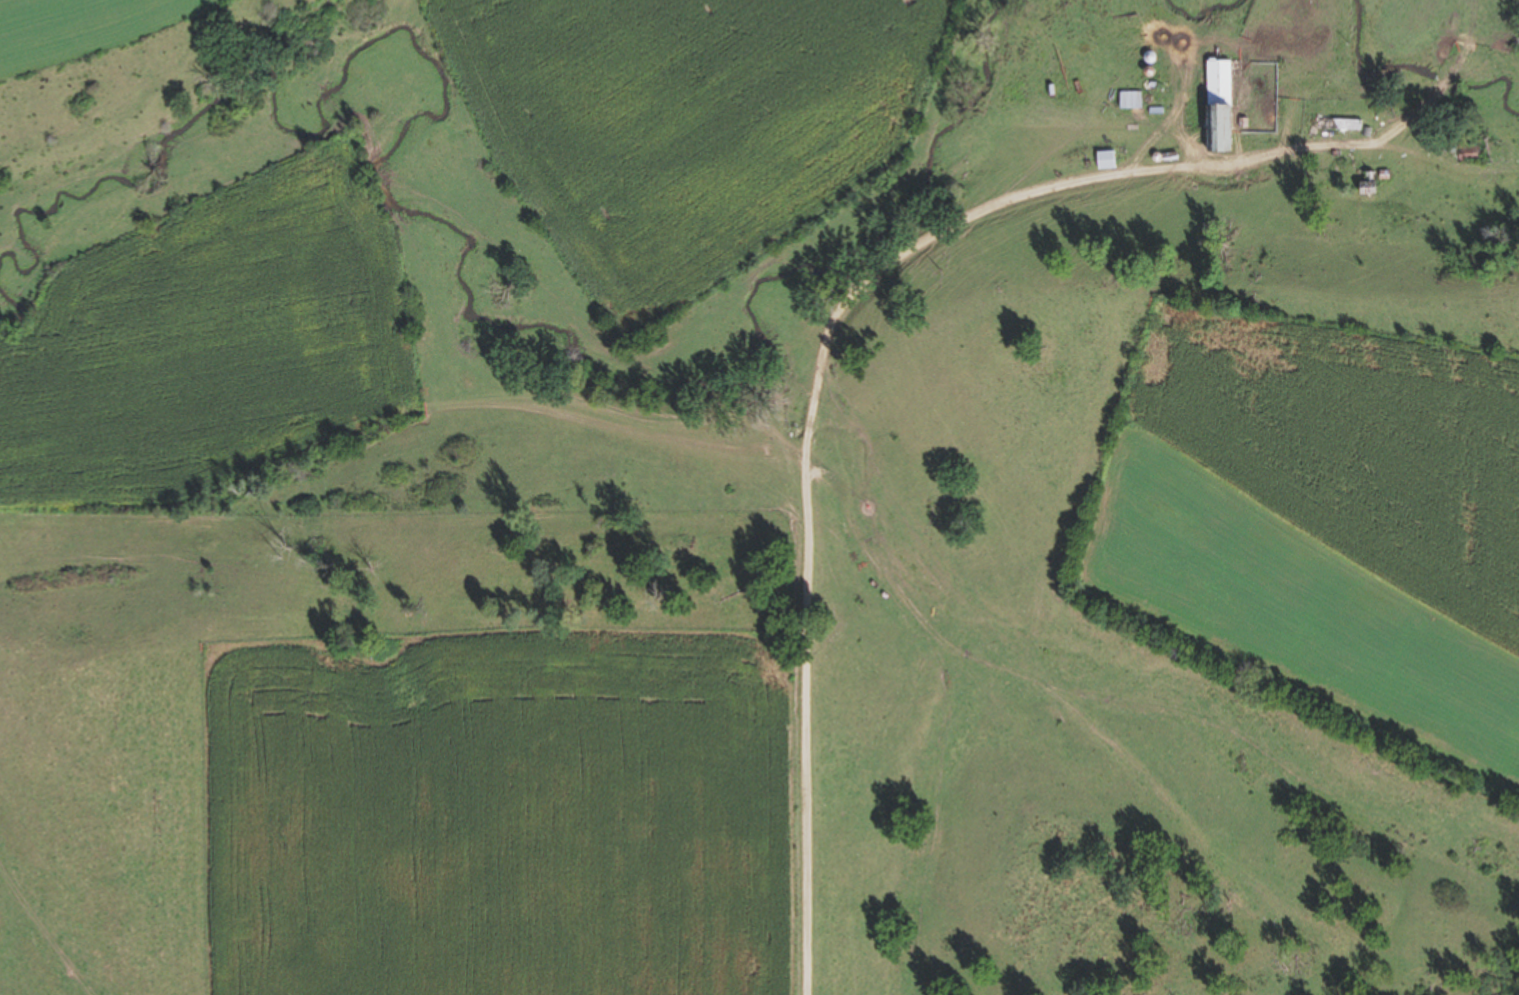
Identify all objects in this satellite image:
building: (1154, 84)
building: (1133, 99)
building: (1220, 106)
building: (1158, 110)
building: (1339, 123)
building: (1472, 154)
building: (1109, 158)
building: (1370, 183)
road: (831, 333)

